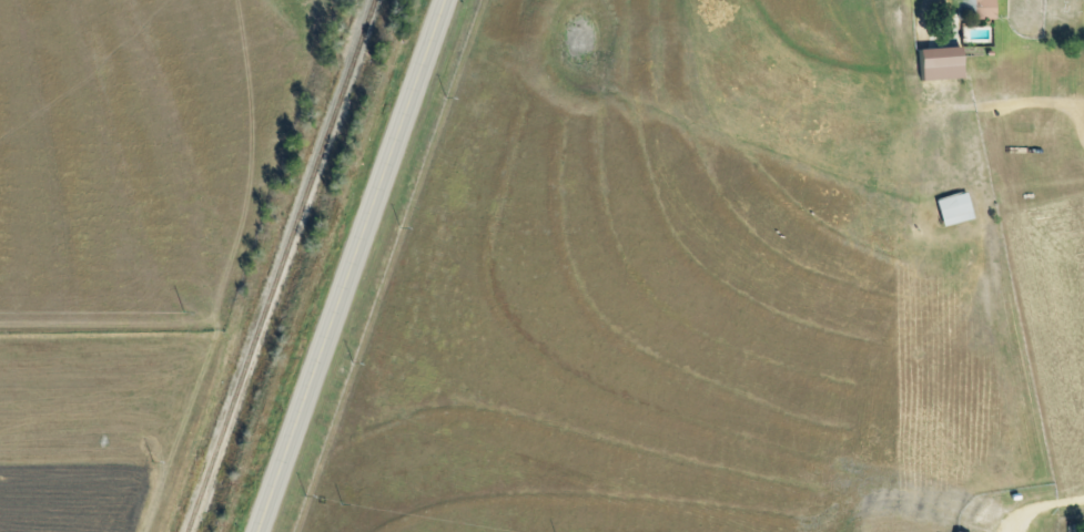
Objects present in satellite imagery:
building: (973, 9)
building: (940, 59)
road: (1078, 121)
building: (953, 209)
railway: (278, 265)
road: (358, 265)

